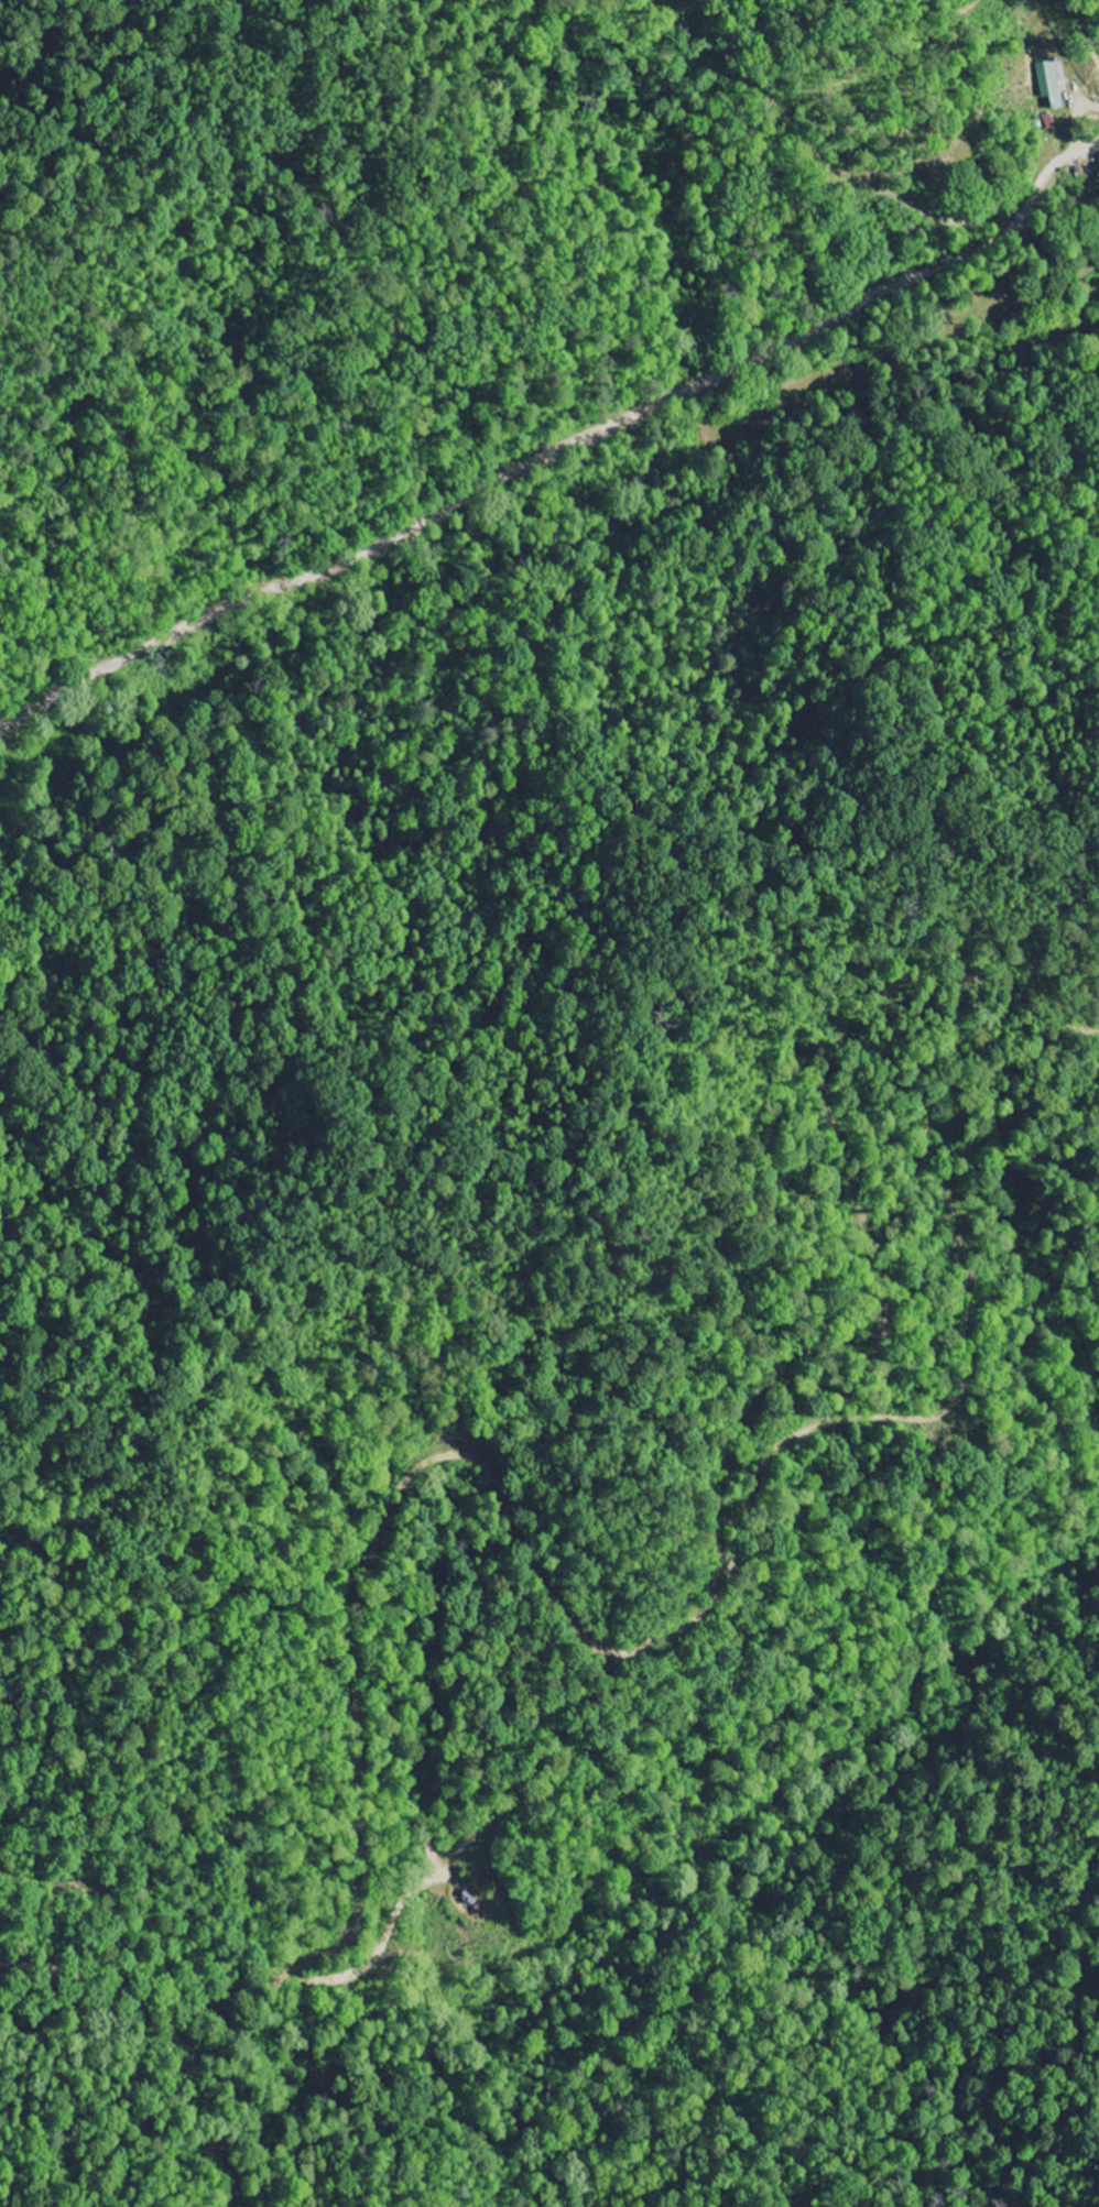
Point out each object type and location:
building: (1098, 171)
road: (559, 447)
road: (588, 1953)

